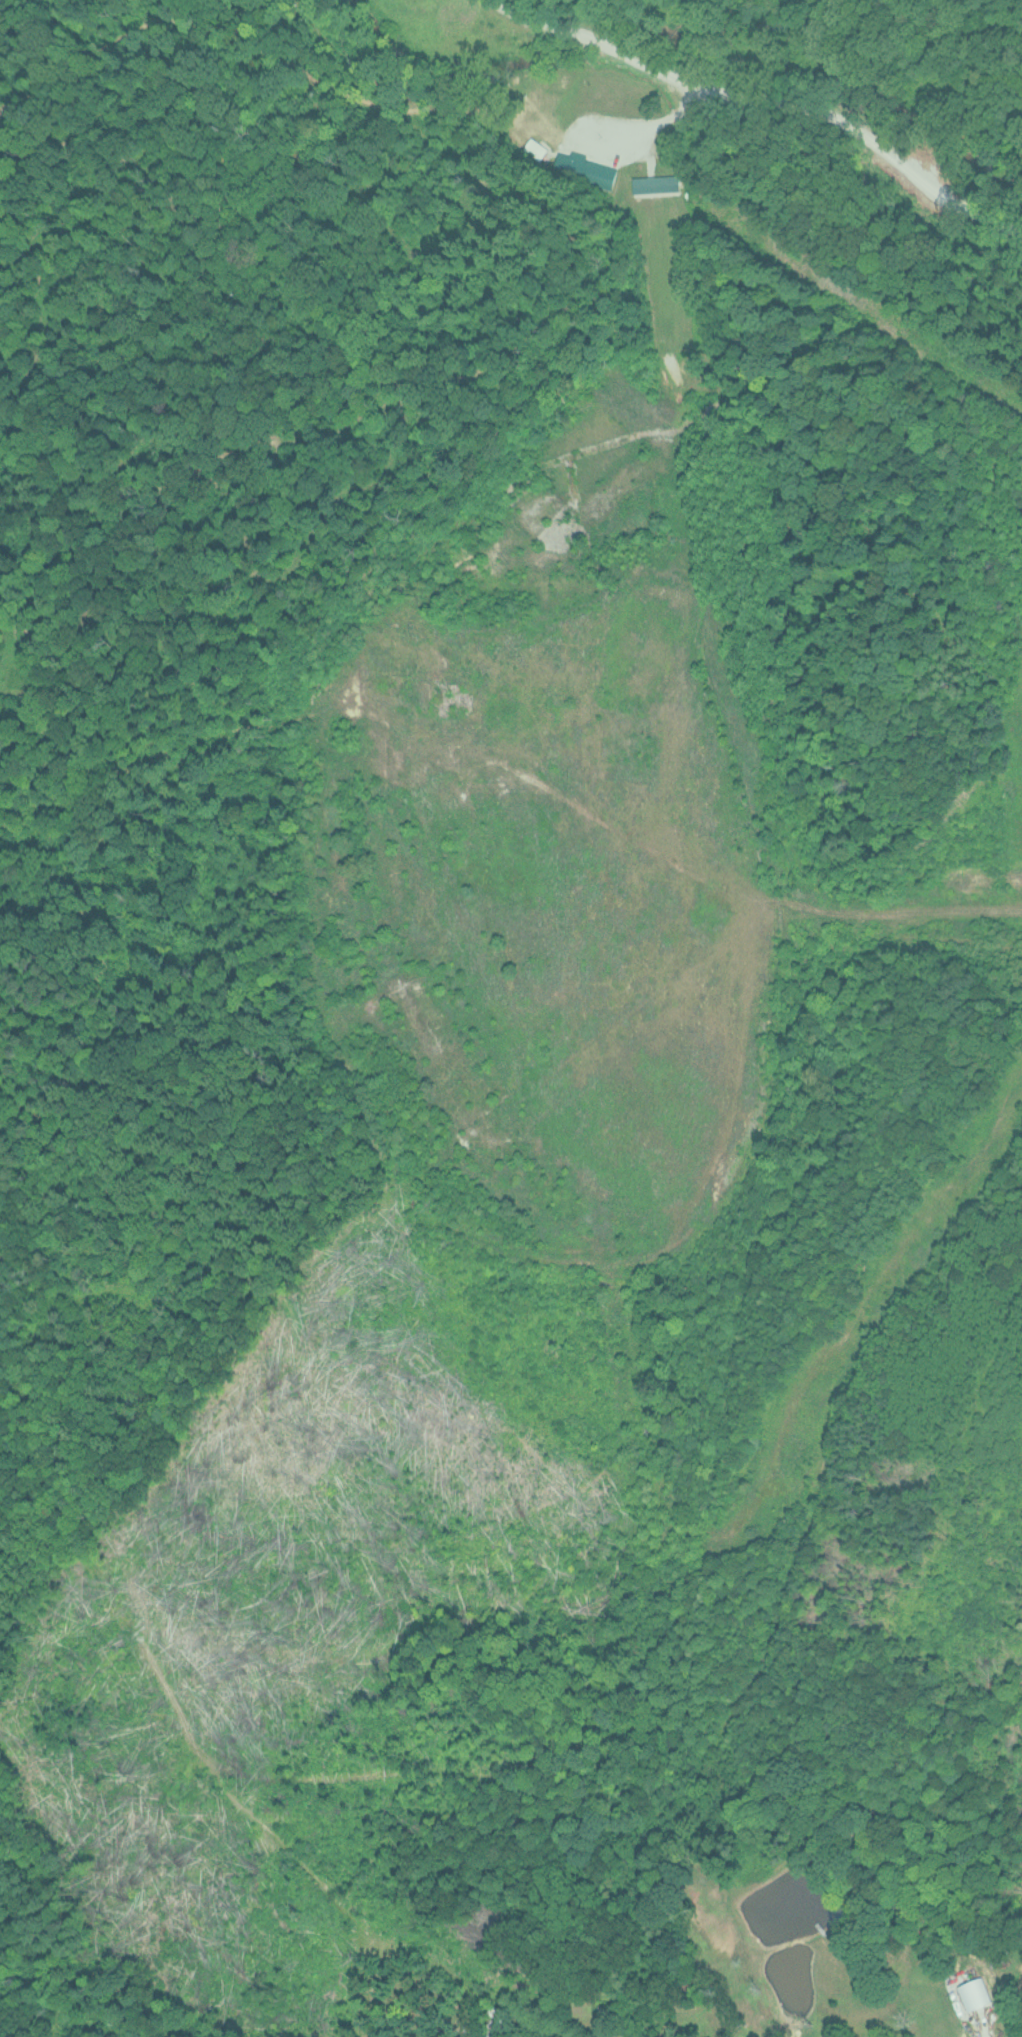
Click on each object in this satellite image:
road: (572, 30)
road: (838, 121)
building: (541, 149)
building: (592, 168)
building: (662, 183)

